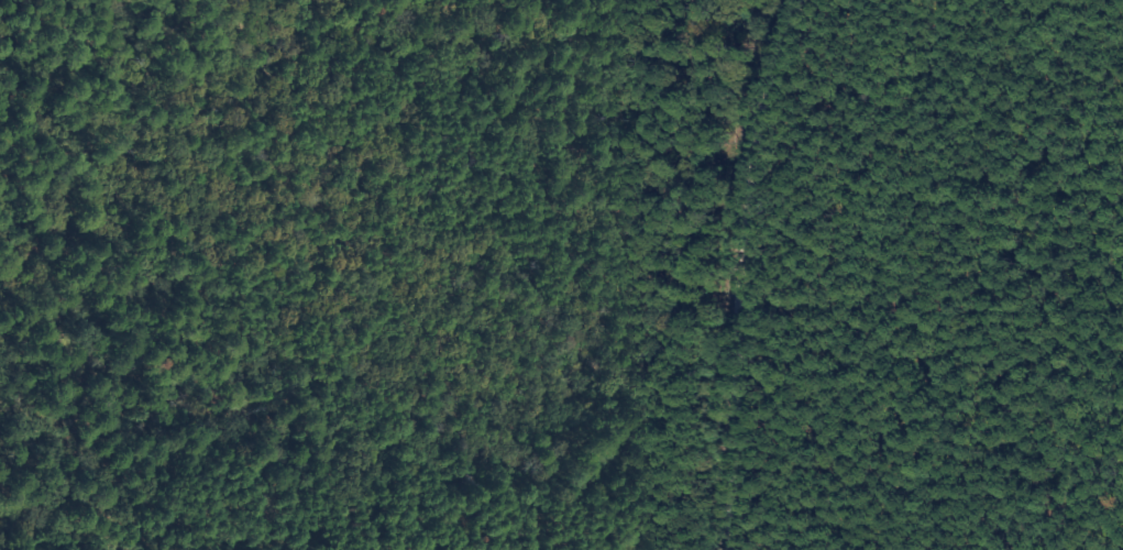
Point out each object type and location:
road: (737, 268)

